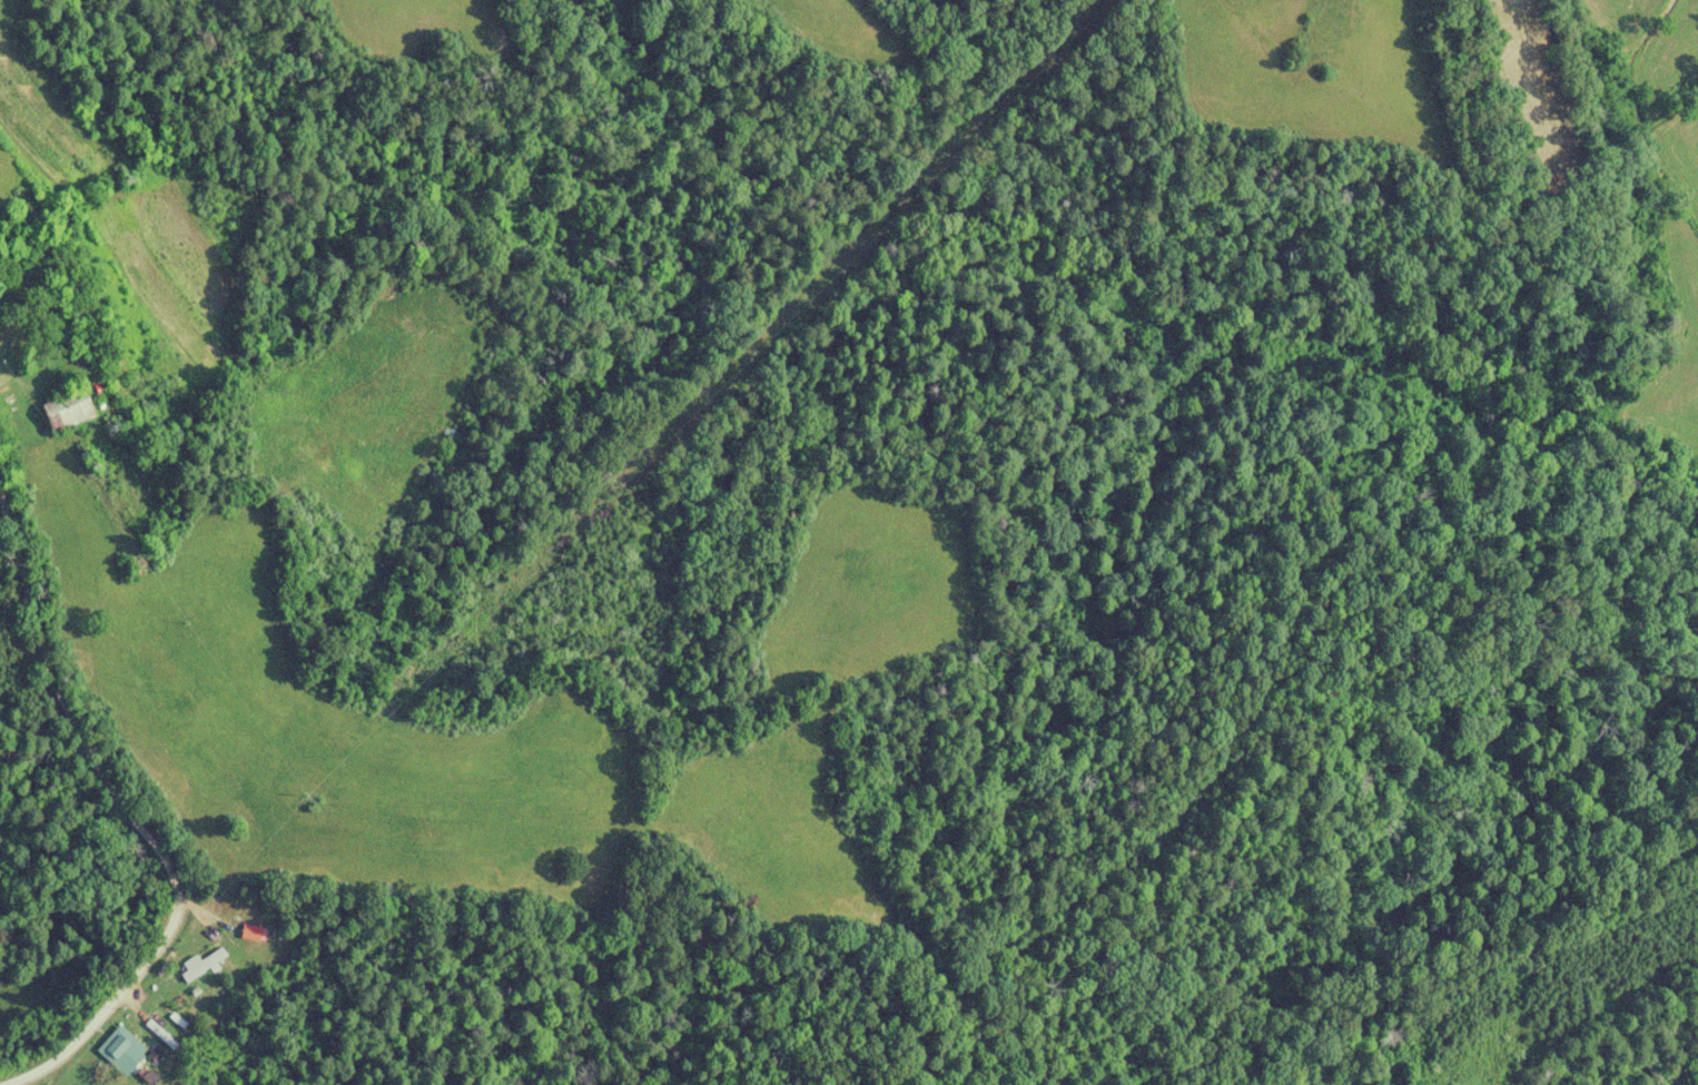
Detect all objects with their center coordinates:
building: (70, 410)
road: (9, 600)
road: (166, 871)
building: (251, 935)
building: (201, 965)
building: (172, 1029)
building: (125, 1054)

